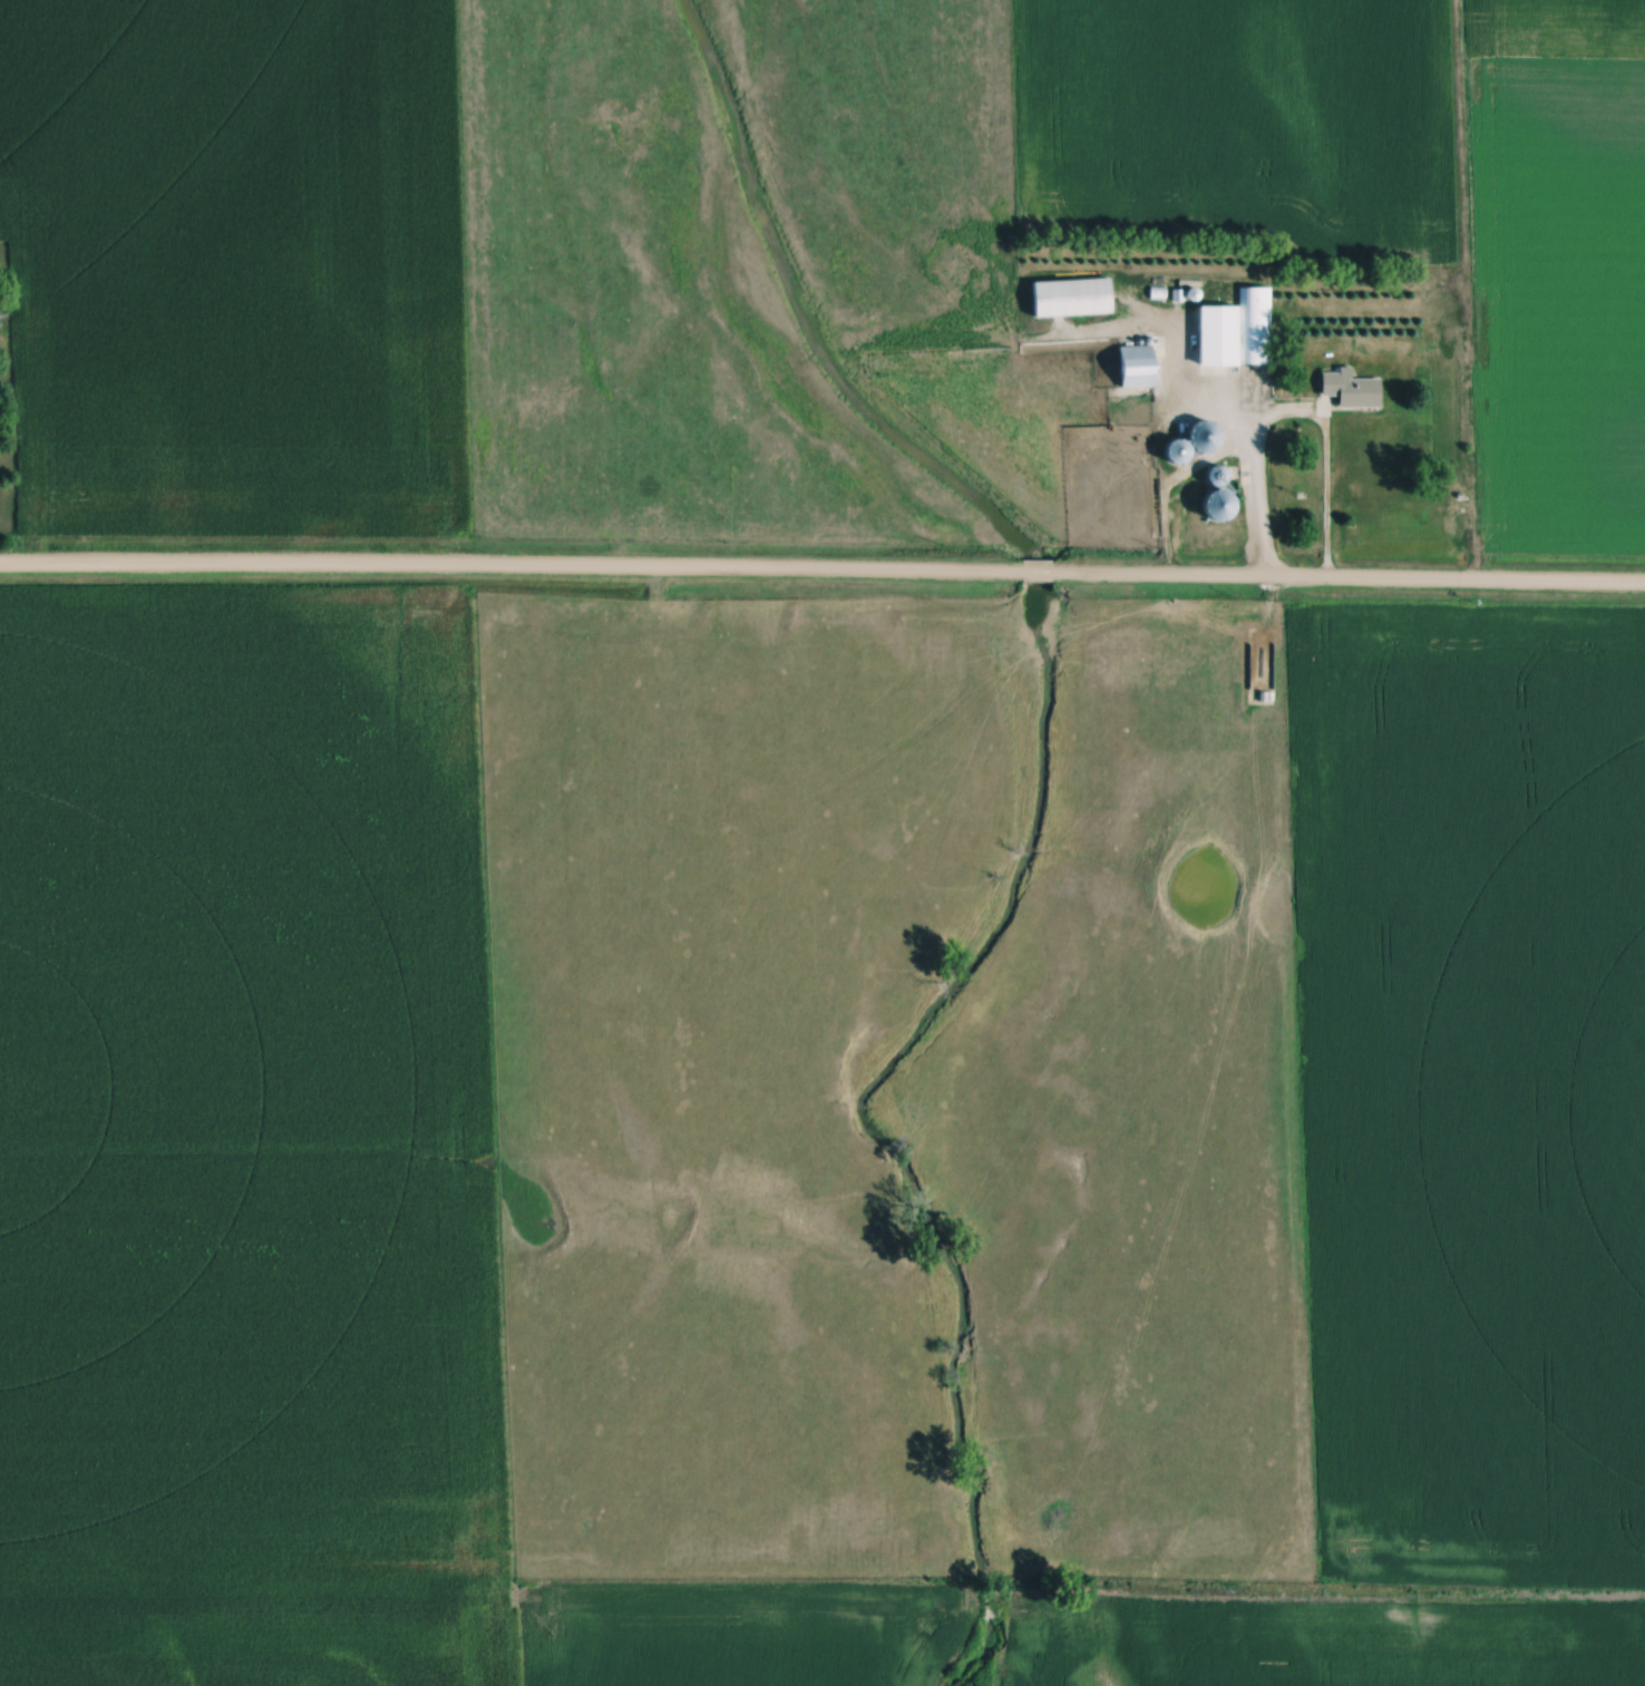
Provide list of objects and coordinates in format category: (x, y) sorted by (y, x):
building: (1075, 299)
building: (1237, 331)
building: (1140, 368)
building: (1353, 390)
road: (1291, 413)
road: (821, 573)

